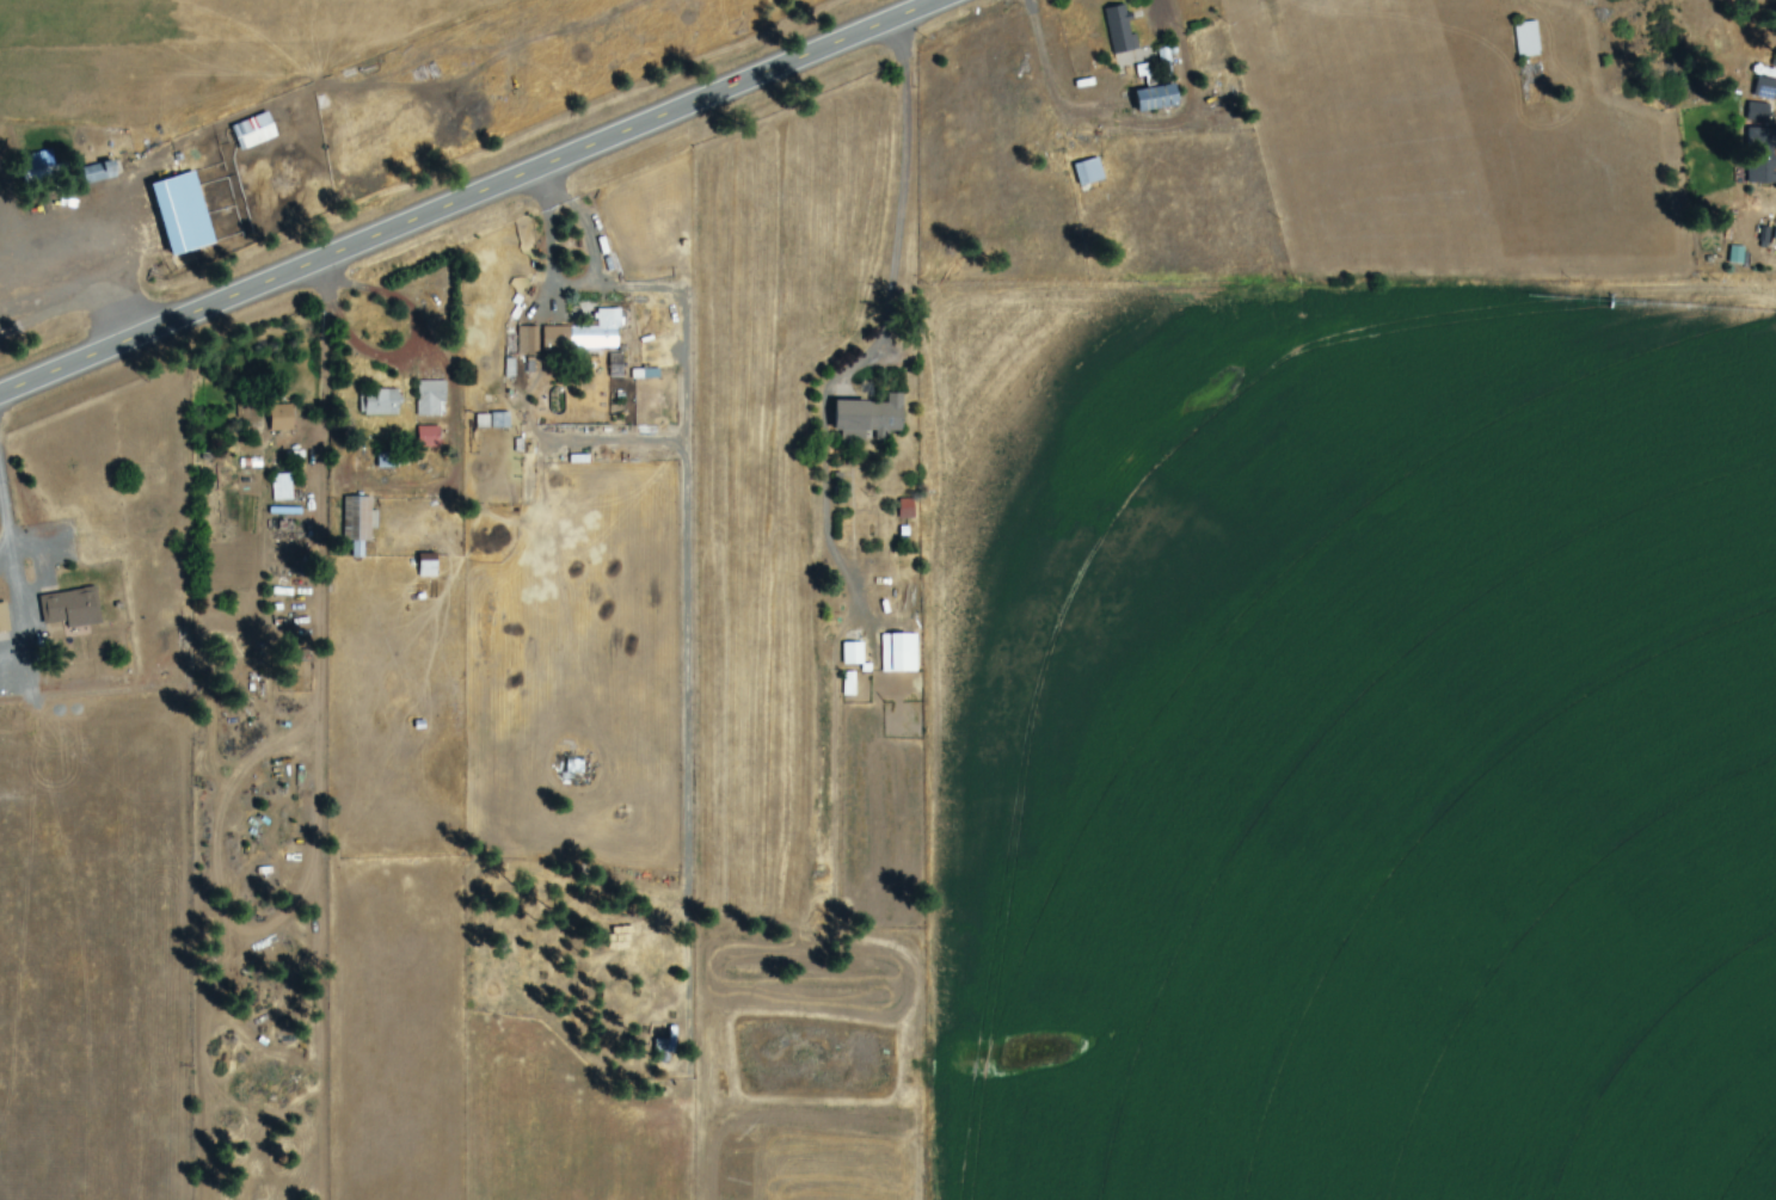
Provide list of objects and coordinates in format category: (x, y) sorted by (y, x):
building: (1120, 29)
building: (1528, 39)
building: (1159, 96)
building: (1758, 112)
building: (254, 130)
building: (1762, 156)
building: (99, 172)
building: (1089, 172)
road: (478, 196)
road: (896, 204)
building: (184, 213)
building: (586, 333)
building: (529, 340)
building: (431, 398)
building: (382, 404)
building: (282, 418)
building: (871, 418)
building: (429, 437)
building: (358, 523)
building: (429, 566)
building: (72, 608)
building: (4, 619)
building: (854, 653)
building: (901, 653)
building: (849, 684)

